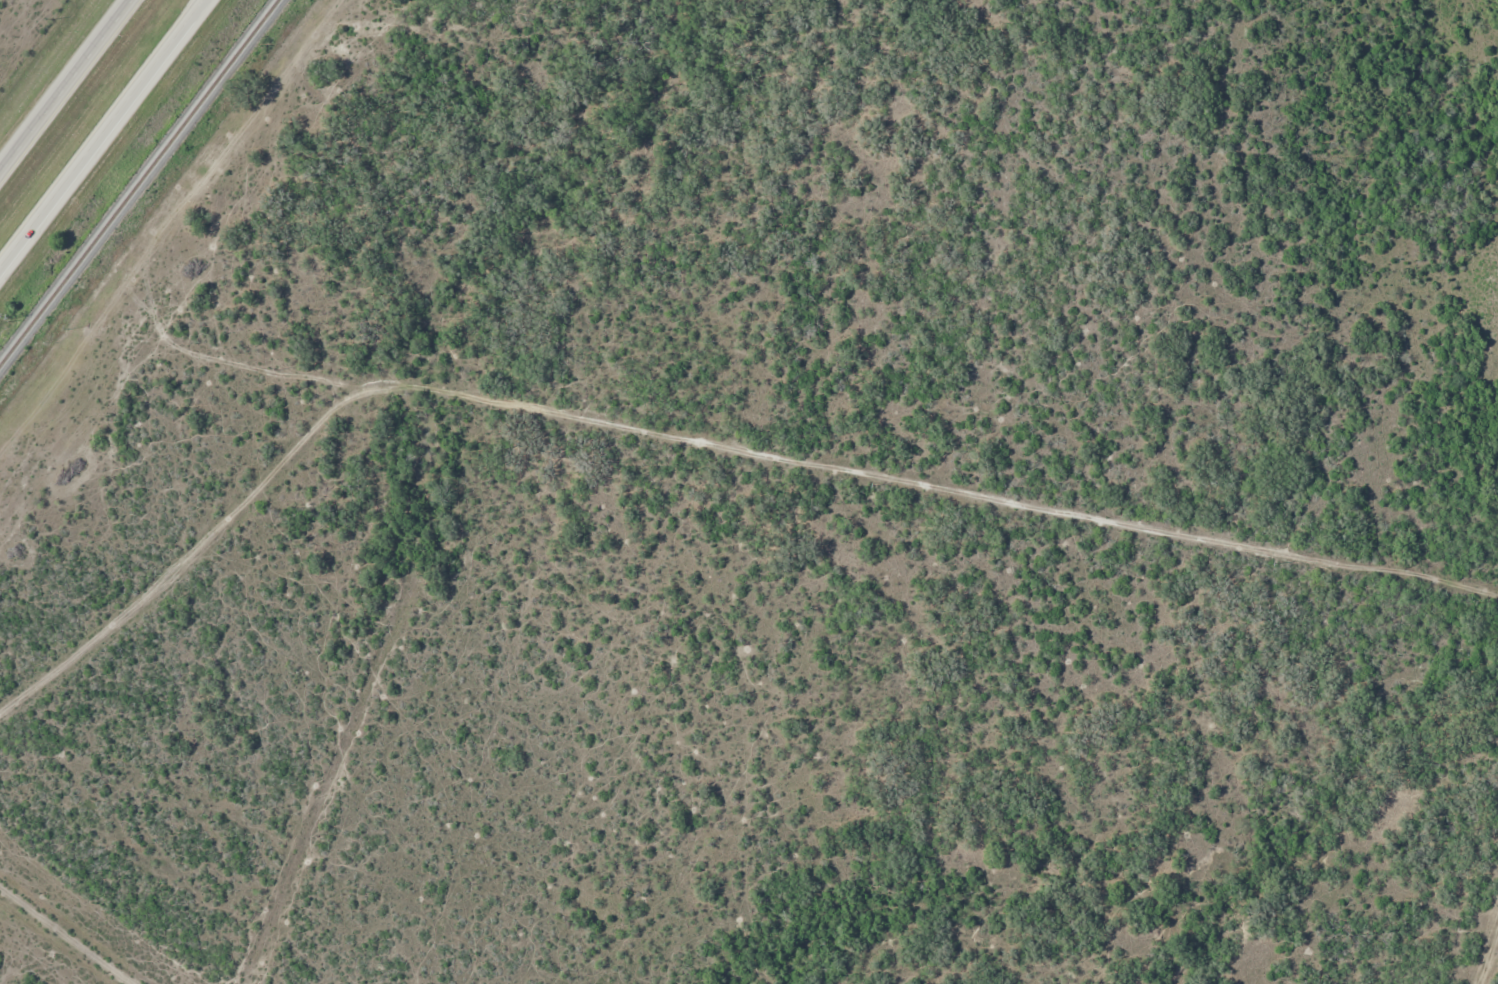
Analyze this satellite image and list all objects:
road: (63, 83)
road: (104, 135)
railway: (141, 187)
road: (65, 937)

